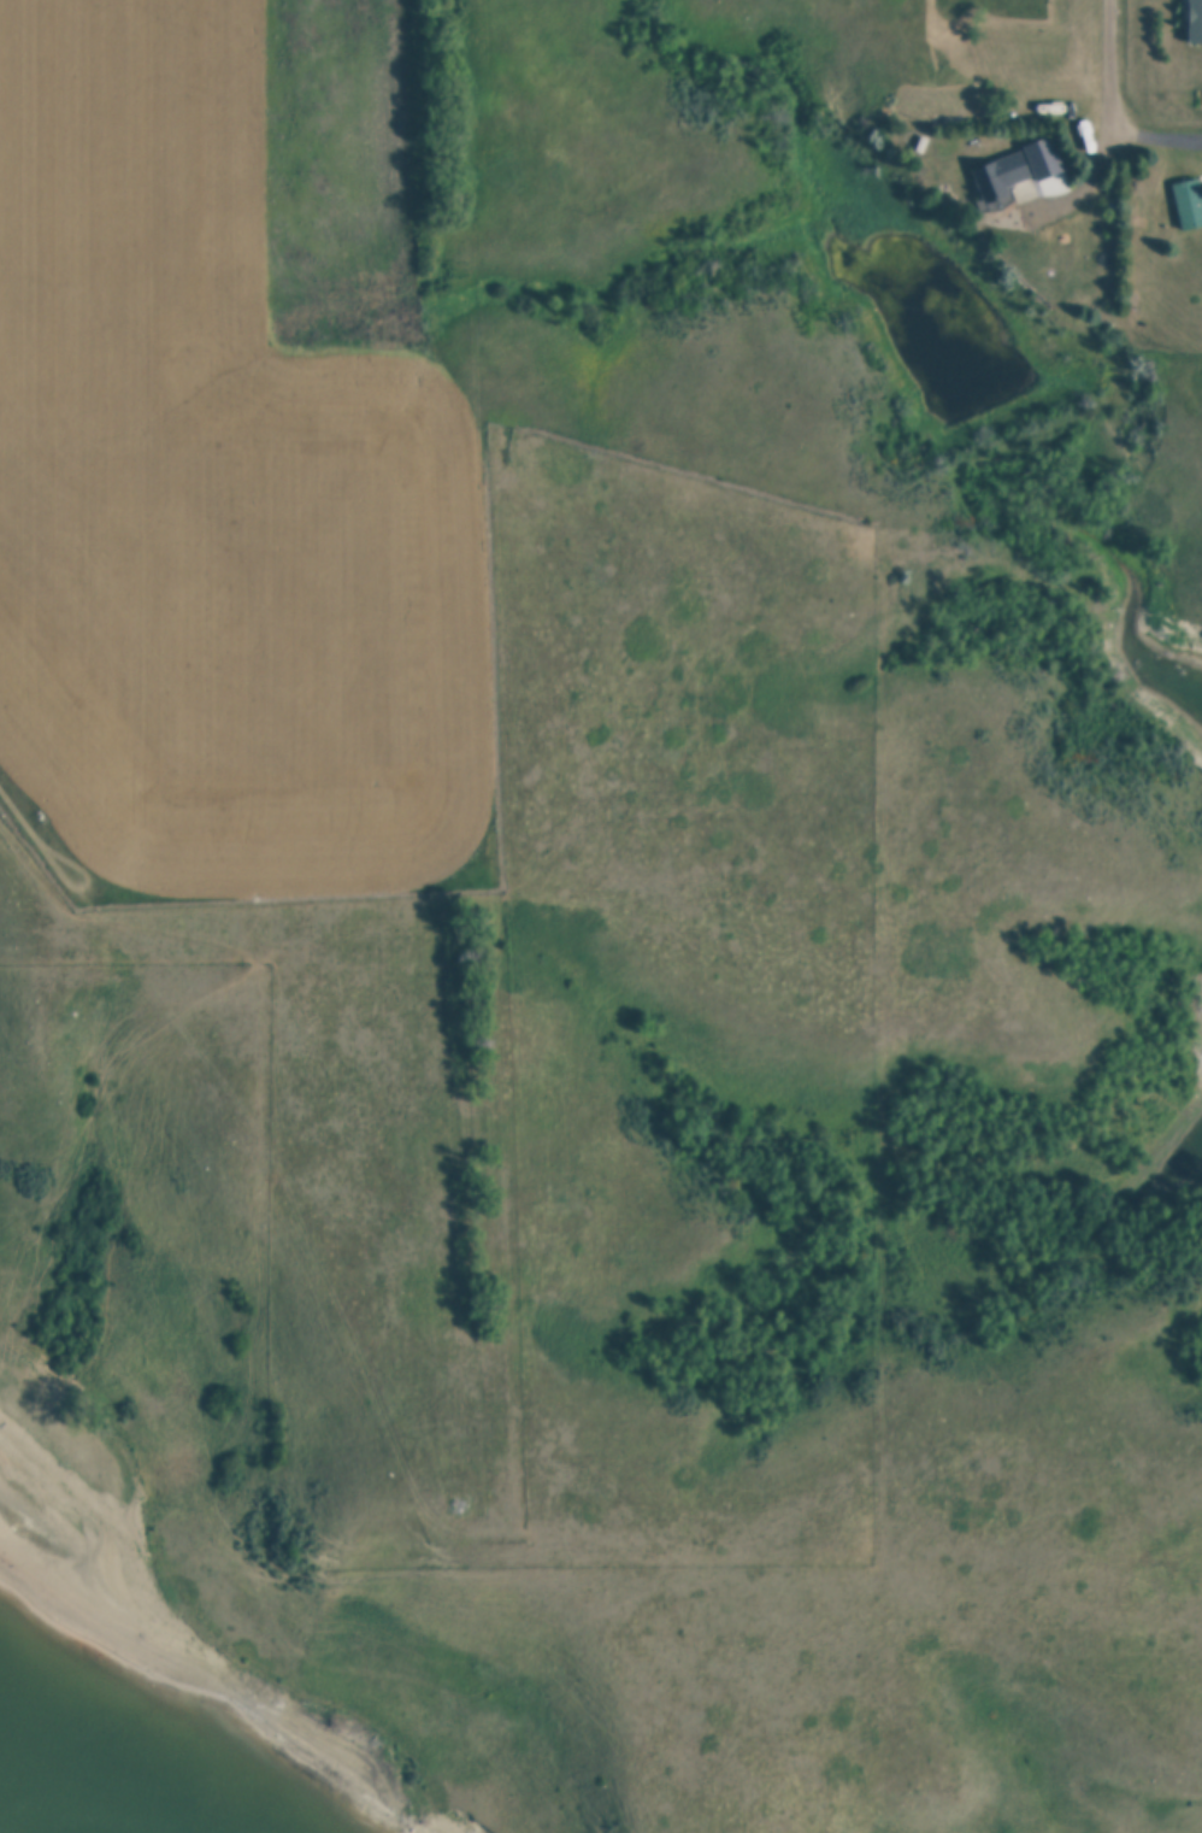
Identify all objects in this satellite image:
building: (1195, 22)
road: (1115, 54)
road: (1151, 140)
building: (923, 145)
building: (1045, 158)
building: (1002, 176)
road: (1084, 186)
building: (1189, 202)

